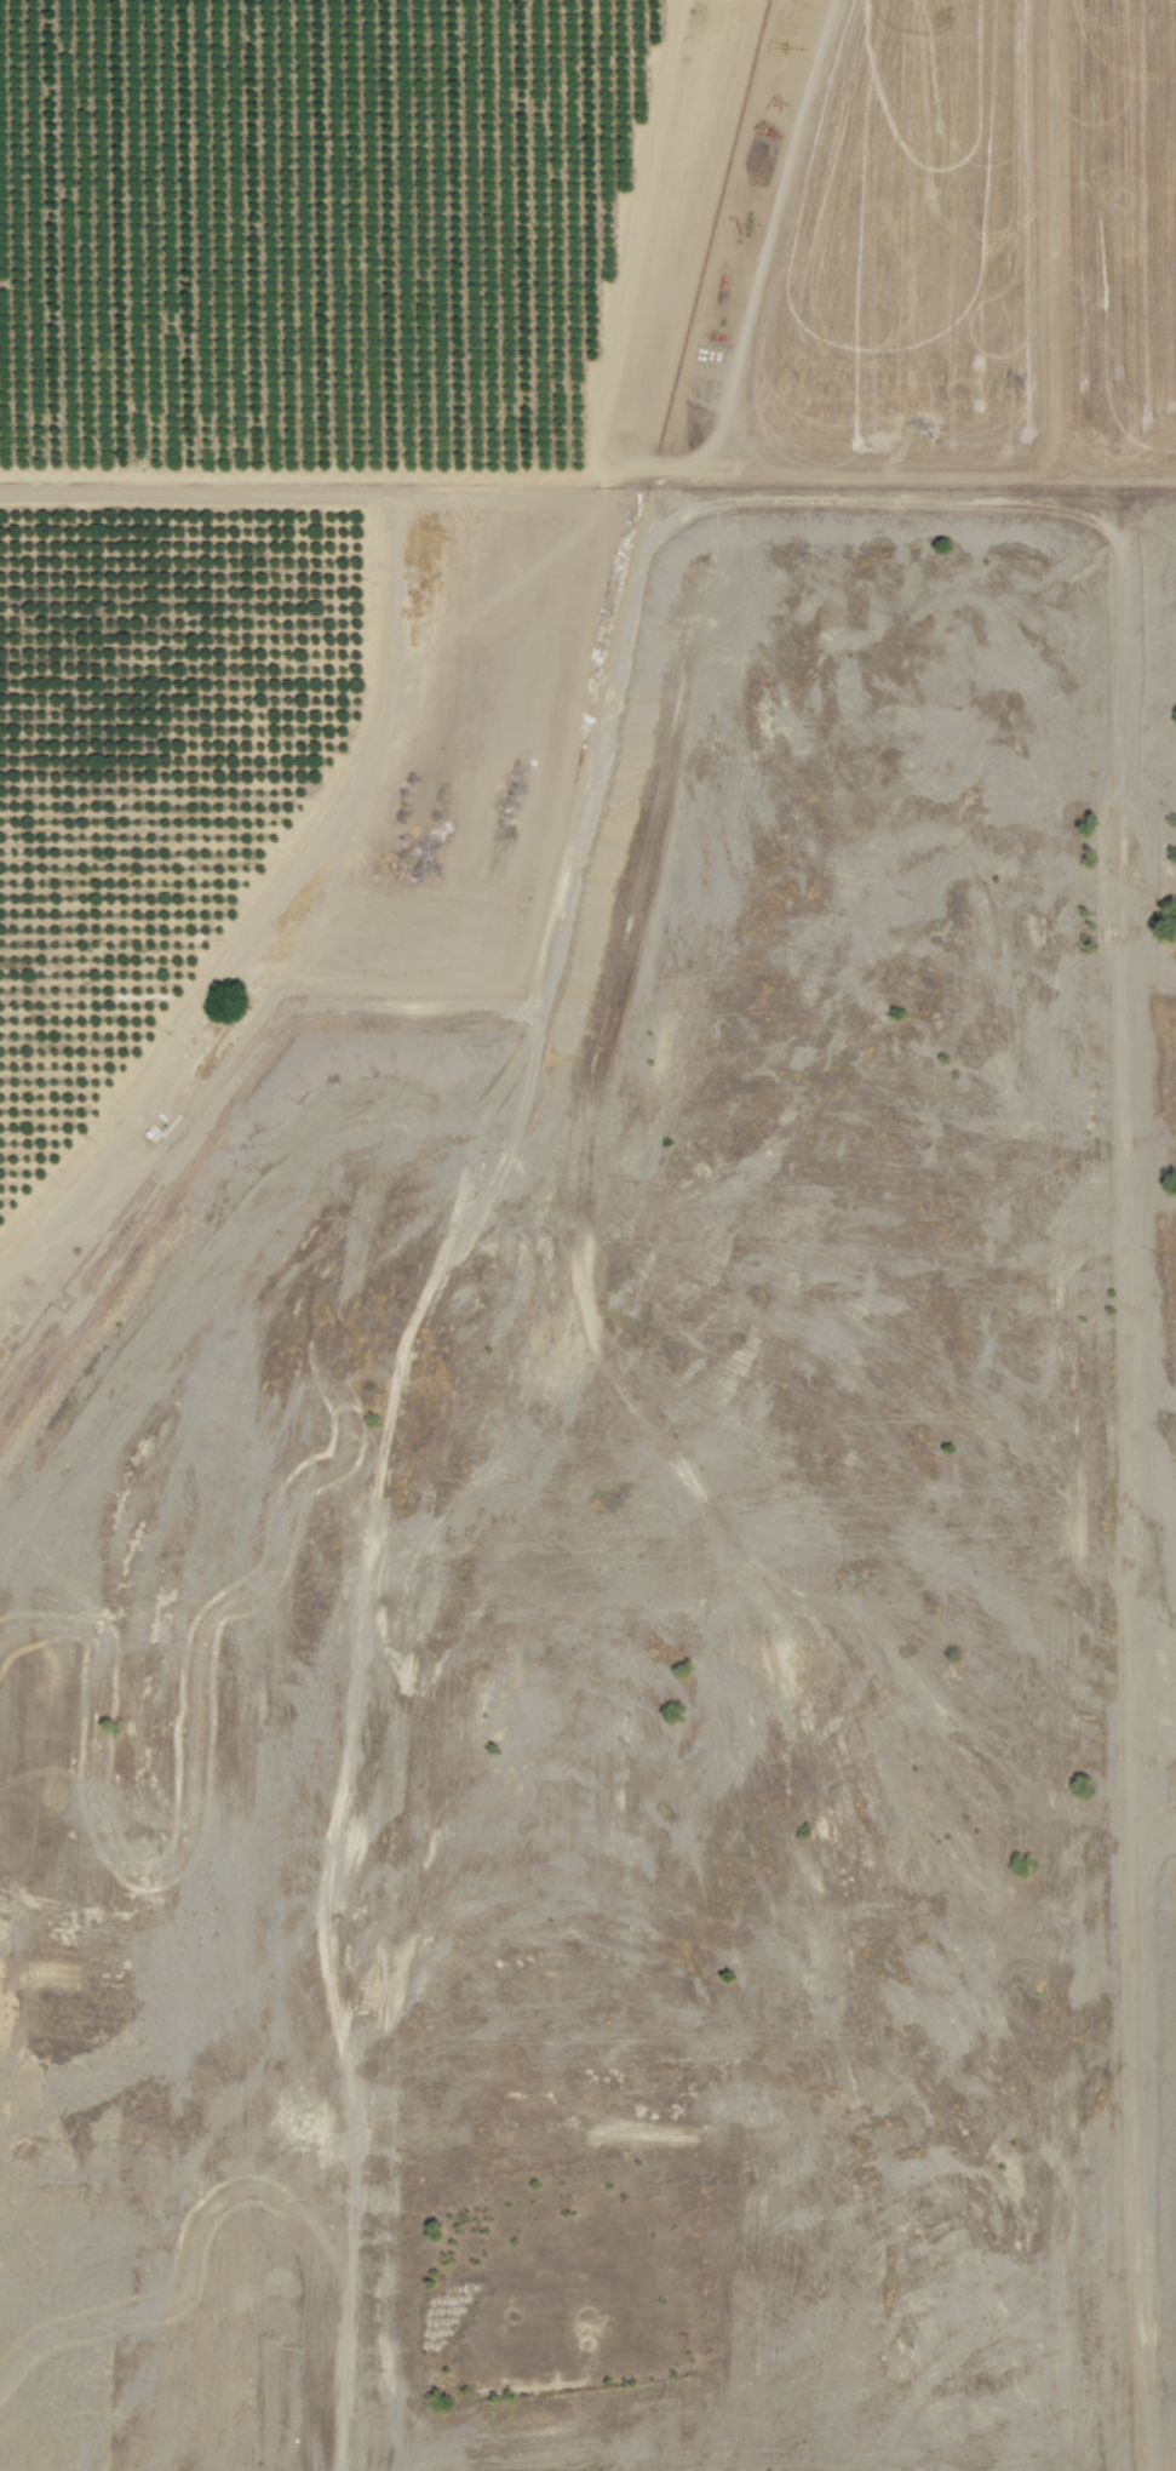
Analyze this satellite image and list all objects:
quarry: (644, 1601)

